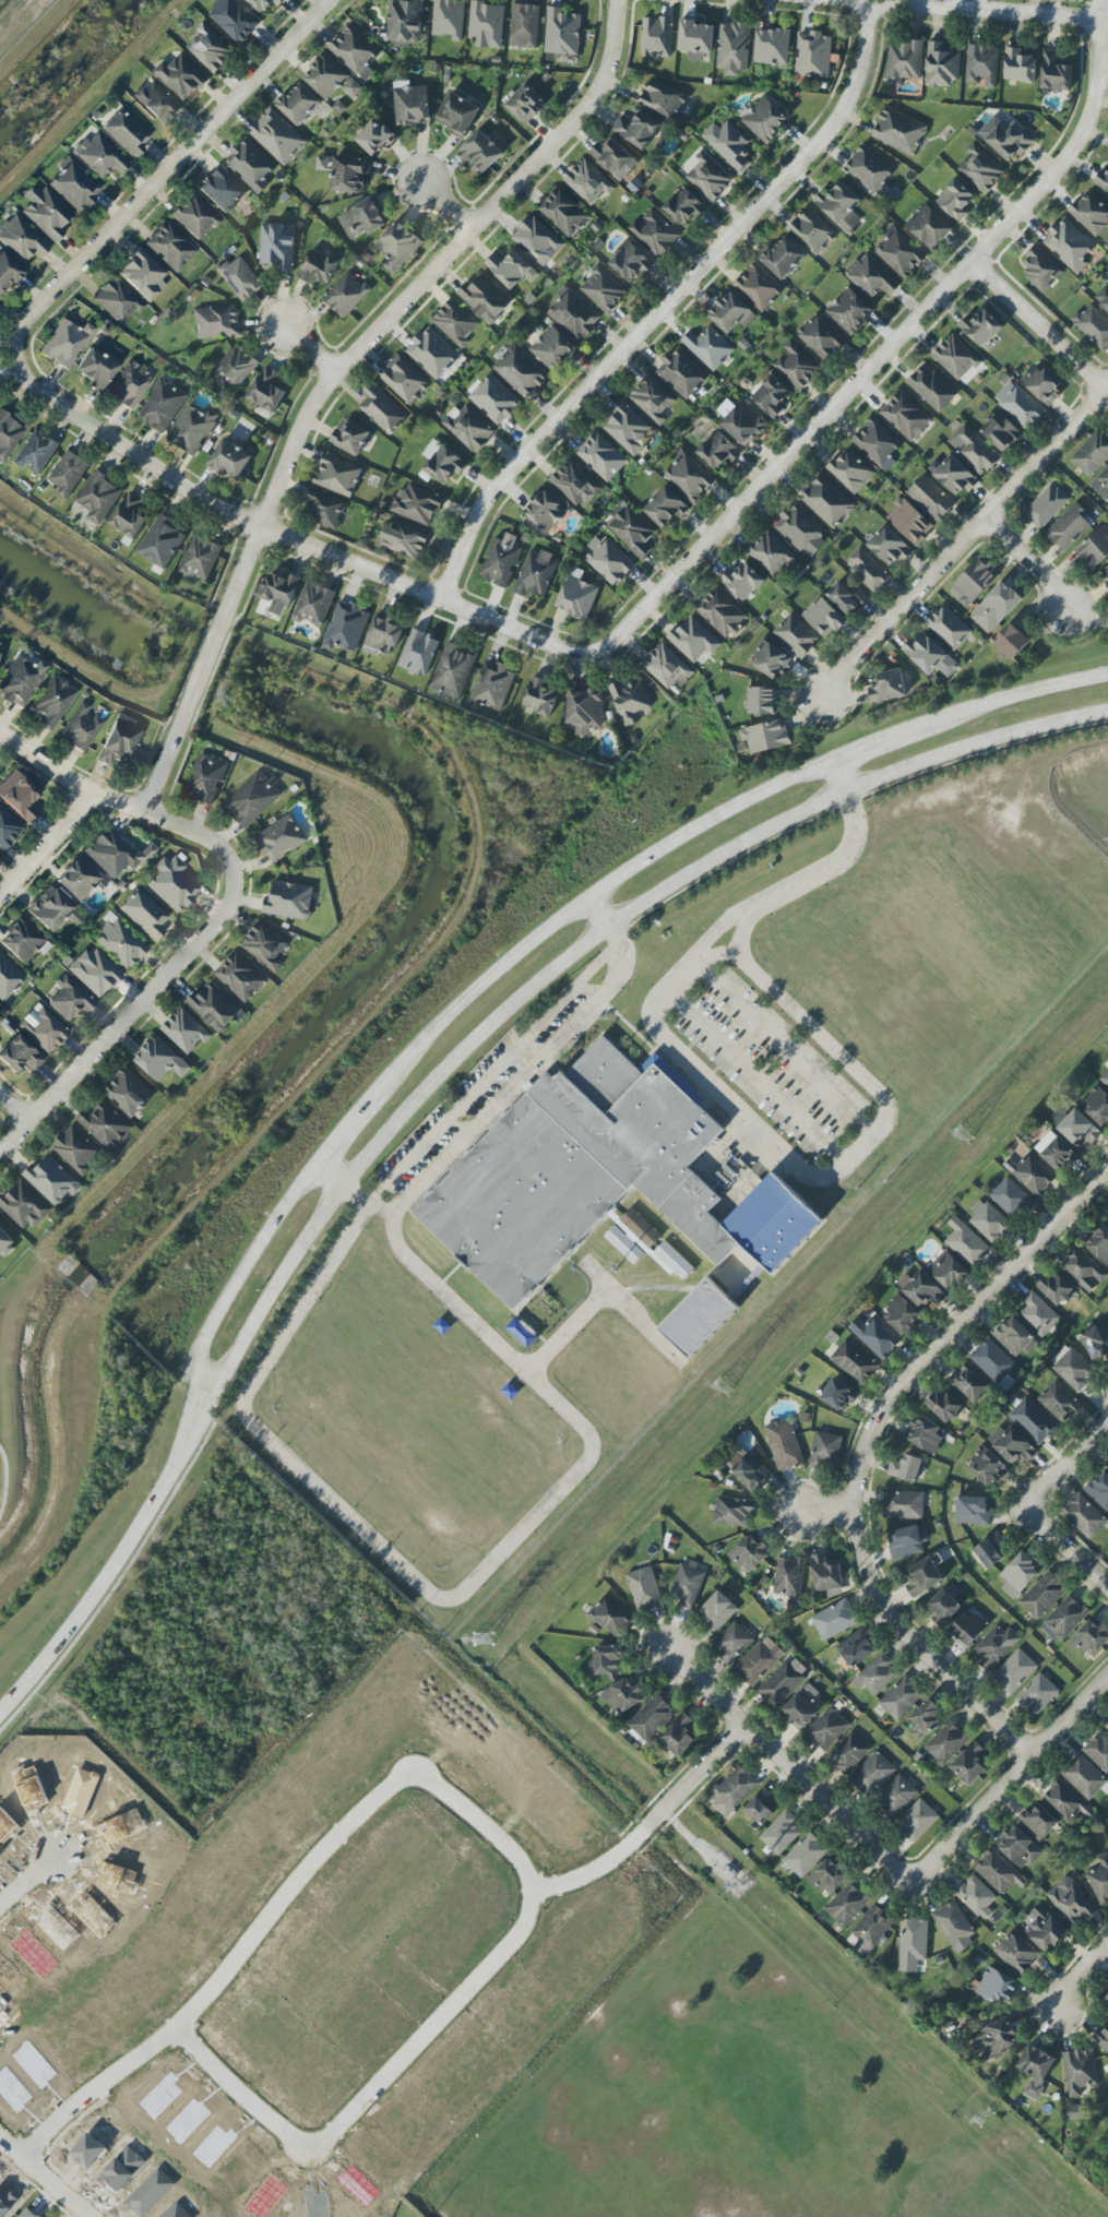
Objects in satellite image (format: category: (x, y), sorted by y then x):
building: (264, 4)
road: (973, 9)
building: (449, 19)
building: (235, 20)
building: (405, 22)
building: (487, 24)
building: (524, 26)
building: (562, 33)
building: (656, 36)
building: (695, 39)
building: (772, 47)
building: (734, 48)
building: (210, 49)
building: (355, 51)
building: (813, 55)
building: (904, 62)
building: (982, 64)
building: (942, 65)
building: (1018, 67)
building: (1055, 72)
building: (181, 76)
building: (331, 79)
building: (663, 99)
building: (157, 102)
building: (299, 104)
building: (525, 104)
building: (412, 106)
building: (457, 115)
building: (765, 119)
building: (636, 130)
building: (899, 131)
building: (126, 133)
building: (277, 136)
building: (374, 138)
building: (1006, 138)
building: (729, 144)
building: (479, 153)
building: (99, 155)
building: (613, 158)
building: (322, 163)
building: (250, 165)
building: (870, 169)
building: (980, 169)
road: (162, 172)
building: (349, 175)
building: (708, 177)
building: (1103, 180)
building: (588, 182)
building: (73, 186)
building: (222, 190)
building: (955, 200)
road: (445, 203)
building: (839, 206)
building: (684, 207)
building: (563, 212)
building: (46, 213)
building: (1091, 213)
building: (194, 216)
building: (364, 218)
building: (929, 227)
building: (812, 231)
building: (655, 234)
building: (21, 239)
building: (537, 240)
building: (1069, 245)
building: (169, 247)
building: (277, 247)
building: (397, 247)
building: (899, 252)
building: (783, 258)
building: (631, 261)
building: (318, 267)
building: (511, 269)
building: (1040, 270)
building: (8, 271)
building: (142, 274)
building: (871, 277)
building: (240, 278)
building: (759, 287)
building: (603, 290)
building: (346, 295)
building: (486, 298)
building: (1103, 298)
building: (117, 300)
road: (662, 303)
building: (849, 311)
building: (731, 313)
building: (573, 314)
building: (217, 322)
building: (455, 322)
building: (1093, 325)
building: (980, 327)
road: (1038, 327)
building: (821, 337)
building: (64, 343)
building: (708, 347)
building: (552, 348)
road: (887, 348)
road: (307, 349)
building: (432, 353)
building: (955, 358)
building: (235, 367)
building: (797, 367)
building: (95, 369)
building: (521, 370)
road: (335, 373)
building: (682, 373)
building: (404, 380)
building: (1043, 384)
building: (130, 385)
building: (931, 389)
building: (267, 391)
building: (770, 396)
building: (495, 400)
building: (652, 400)
building: (162, 405)
building: (1018, 405)
building: (382, 409)
building: (905, 416)
building: (741, 421)
building: (468, 428)
building: (193, 429)
building: (627, 429)
building: (1001, 432)
building: (8, 436)
building: (350, 438)
building: (877, 443)
building: (974, 450)
building: (718, 451)
building: (36, 452)
building: (1092, 453)
building: (603, 456)
building: (230, 460)
building: (442, 462)
building: (850, 470)
building: (68, 474)
building: (337, 475)
building: (689, 476)
building: (955, 476)
building: (574, 484)
building: (1101, 484)
building: (99, 498)
building: (931, 498)
building: (827, 501)
building: (417, 504)
building: (1046, 506)
building: (666, 508)
building: (325, 509)
building: (545, 511)
building: (129, 519)
building: (908, 521)
building: (1070, 527)
building: (631, 529)
building: (801, 529)
road: (282, 536)
building: (404, 539)
road: (961, 540)
building: (163, 543)
building: (890, 546)
building: (1093, 549)
building: (771, 555)
building: (200, 559)
building: (501, 560)
building: (608, 560)
road: (1028, 561)
building: (867, 569)
building: (1107, 569)
building: (536, 574)
building: (742, 581)
building: (1106, 582)
building: (973, 583)
building: (279, 593)
building: (847, 596)
building: (576, 598)
building: (1000, 603)
building: (313, 605)
building: (722, 612)
building: (823, 617)
building: (346, 627)
building: (949, 628)
building: (796, 635)
building: (382, 636)
building: (693, 639)
building: (1012, 641)
building: (418, 652)
building: (925, 654)
building: (770, 659)
building: (666, 667)
building: (452, 671)
building: (21, 680)
building: (491, 686)
building: (889, 687)
road: (1004, 695)
building: (539, 698)
building: (630, 701)
building: (763, 701)
building: (52, 702)
building: (584, 711)
building: (80, 728)
building: (766, 736)
building: (119, 740)
road: (866, 743)
road: (975, 743)
road: (837, 774)
building: (206, 777)
building: (19, 795)
building: (252, 799)
road: (121, 803)
road: (702, 815)
building: (8, 829)
building: (279, 839)
road: (45, 844)
road: (725, 851)
building: (115, 853)
building: (79, 879)
building: (172, 884)
building: (289, 901)
road: (599, 908)
building: (52, 910)
building: (144, 913)
building: (23, 941)
building: (119, 941)
building: (265, 945)
road: (712, 953)
building: (94, 972)
building: (240, 977)
road: (474, 984)
building: (70, 999)
building: (216, 1008)
road: (123, 1017)
building: (41, 1028)
building: (184, 1032)
road: (467, 1042)
road: (777, 1048)
building: (19, 1054)
building: (162, 1060)
road: (752, 1077)
building: (1105, 1078)
building: (129, 1093)
building: (1098, 1106)
road: (13, 1108)
road: (342, 1121)
building: (106, 1125)
building: (1079, 1130)
road: (870, 1132)
power tower: (965, 1133)
building: (75, 1149)
building: (1055, 1151)
road: (329, 1170)
building: (575, 1170)
building: (1032, 1175)
building: (51, 1180)
building: (1011, 1199)
road: (366, 1204)
building: (24, 1206)
building: (776, 1221)
building: (989, 1223)
building: (641, 1228)
building: (5, 1242)
building: (966, 1243)
building: (624, 1244)
building: (1099, 1244)
building: (1083, 1270)
building: (948, 1271)
road: (609, 1287)
road: (227, 1288)
building: (1056, 1289)
building: (924, 1291)
road: (261, 1308)
building: (1038, 1314)
building: (903, 1315)
building: (699, 1318)
road: (955, 1330)
road: (567, 1331)
building: (874, 1336)
building: (1013, 1336)
building: (1096, 1340)
building: (855, 1361)
building: (993, 1363)
building: (1072, 1369)
power tower: (726, 1383)
building: (968, 1383)
building: (837, 1394)
building: (1059, 1402)
building: (943, 1406)
building: (1033, 1420)
building: (927, 1434)
building: (784, 1444)
building: (1012, 1445)
building: (825, 1451)
building: (988, 1466)
building: (905, 1468)
building: (1107, 1468)
building: (752, 1473)
road: (7, 1481)
building: (1099, 1490)
road: (1028, 1503)
building: (903, 1504)
building: (734, 1511)
building: (972, 1511)
road: (826, 1514)
building: (1084, 1516)
building: (906, 1541)
road: (501, 1549)
building: (990, 1550)
building: (749, 1554)
building: (825, 1573)
building: (1018, 1575)
building: (787, 1576)
building: (924, 1577)
road: (102, 1581)
building: (687, 1585)
building: (644, 1588)
building: (1043, 1596)
building: (945, 1604)
building: (717, 1611)
building: (611, 1616)
building: (1067, 1617)
building: (834, 1620)
building: (968, 1628)
building: (1091, 1638)
power tower: (482, 1642)
building: (731, 1643)
building: (996, 1647)
building: (857, 1648)
road: (922, 1649)
building: (608, 1659)
building: (759, 1661)
building: (1014, 1671)
building: (878, 1674)
building: (783, 1681)
building: (1037, 1694)
building: (623, 1695)
building: (901, 1697)
building: (803, 1707)
building: (652, 1718)
building: (926, 1718)
building: (1107, 1728)
building: (827, 1729)
building: (679, 1736)
building: (945, 1743)
building: (1098, 1751)
building: (848, 1753)
building: (969, 1764)
road: (791, 1766)
road: (693, 1773)
building: (873, 1773)
building: (1084, 1777)
road: (1010, 1778)
building: (734, 1791)
building: (896, 1795)
building: (1062, 1801)
building: (761, 1807)
building: (918, 1820)
building: (1038, 1823)
building: (782, 1833)
building: (1020, 1848)
building: (805, 1855)
building: (999, 1871)
building: (829, 1876)
building: (1099, 1880)
power tower: (741, 1886)
road: (24, 1888)
building: (976, 1896)
building: (1071, 1902)
building: (846, 1905)
building: (954, 1926)
building: (1046, 1929)
building: (870, 1930)
building: (914, 1940)
building: (1017, 1953)
road: (1076, 1974)
building: (997, 1987)
building: (1106, 2000)
building: (997, 2038)
building: (1101, 2039)
building: (1036, 2069)
building: (1080, 2073)
road: (223, 2083)
road: (87, 2103)
building: (1074, 2112)
power tower: (982, 2118)
road: (50, 2190)

